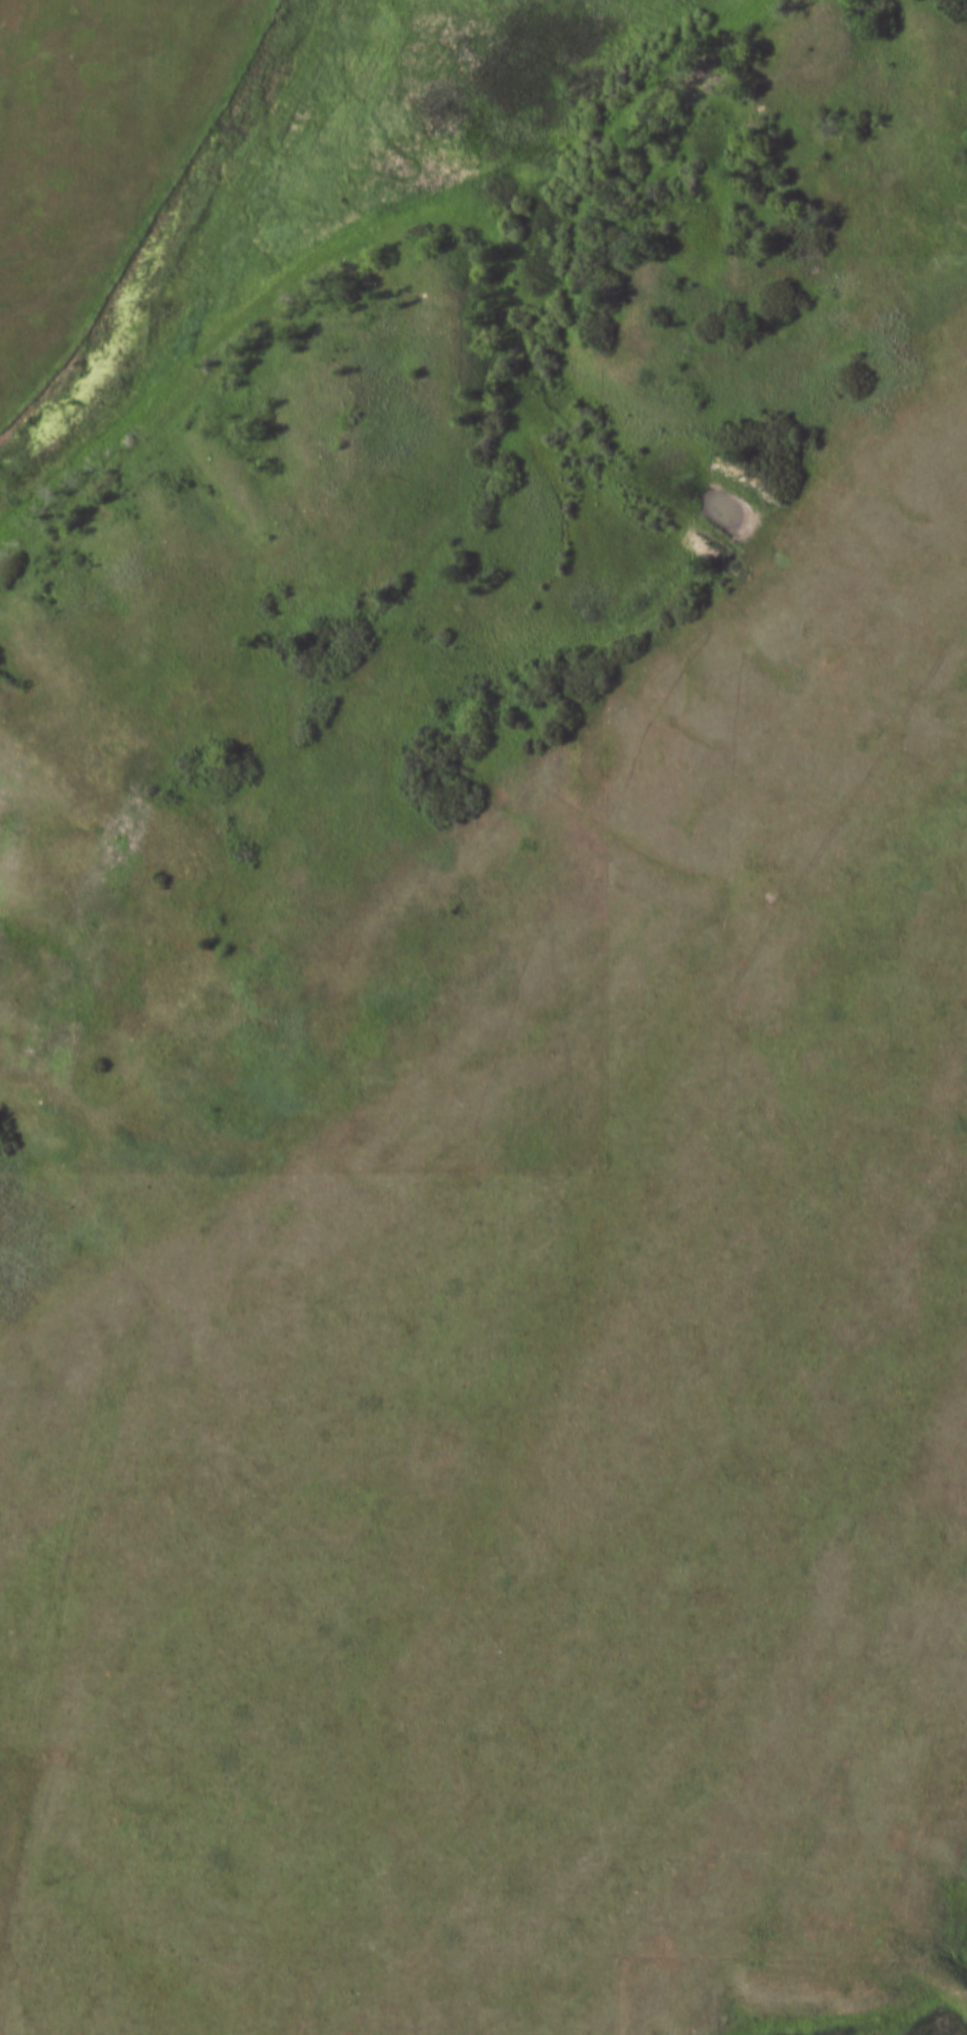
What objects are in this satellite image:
road: (794, 1953)
dam: (948, 1972)

